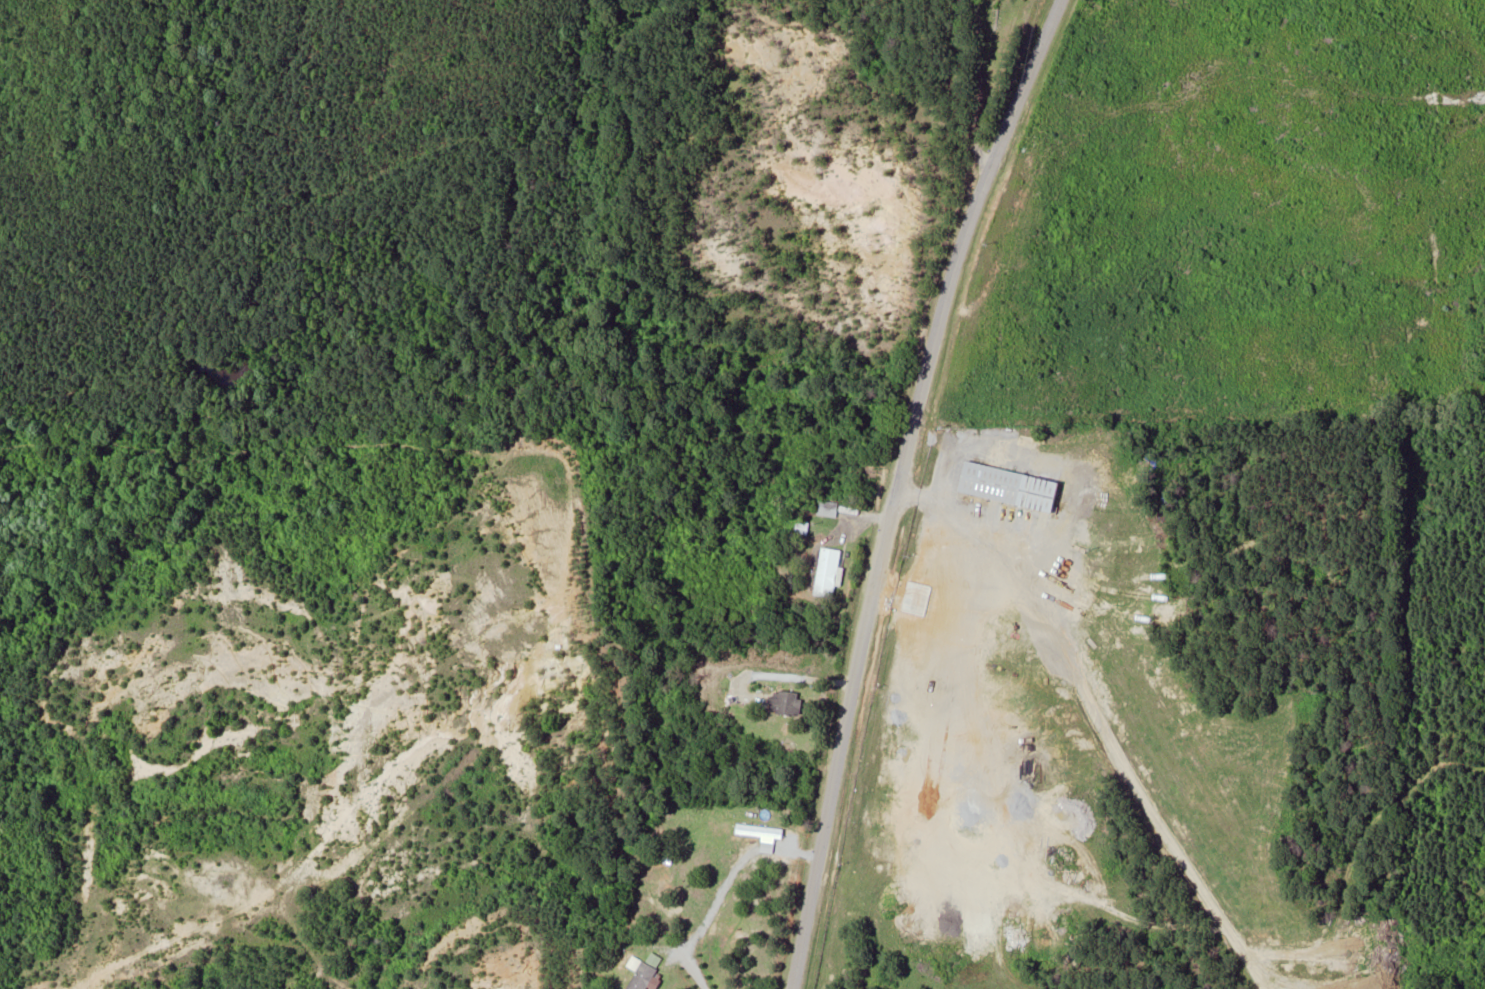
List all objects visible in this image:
road: (899, 486)
building: (1011, 487)
building: (828, 509)
building: (829, 573)
building: (786, 702)
building: (647, 971)

